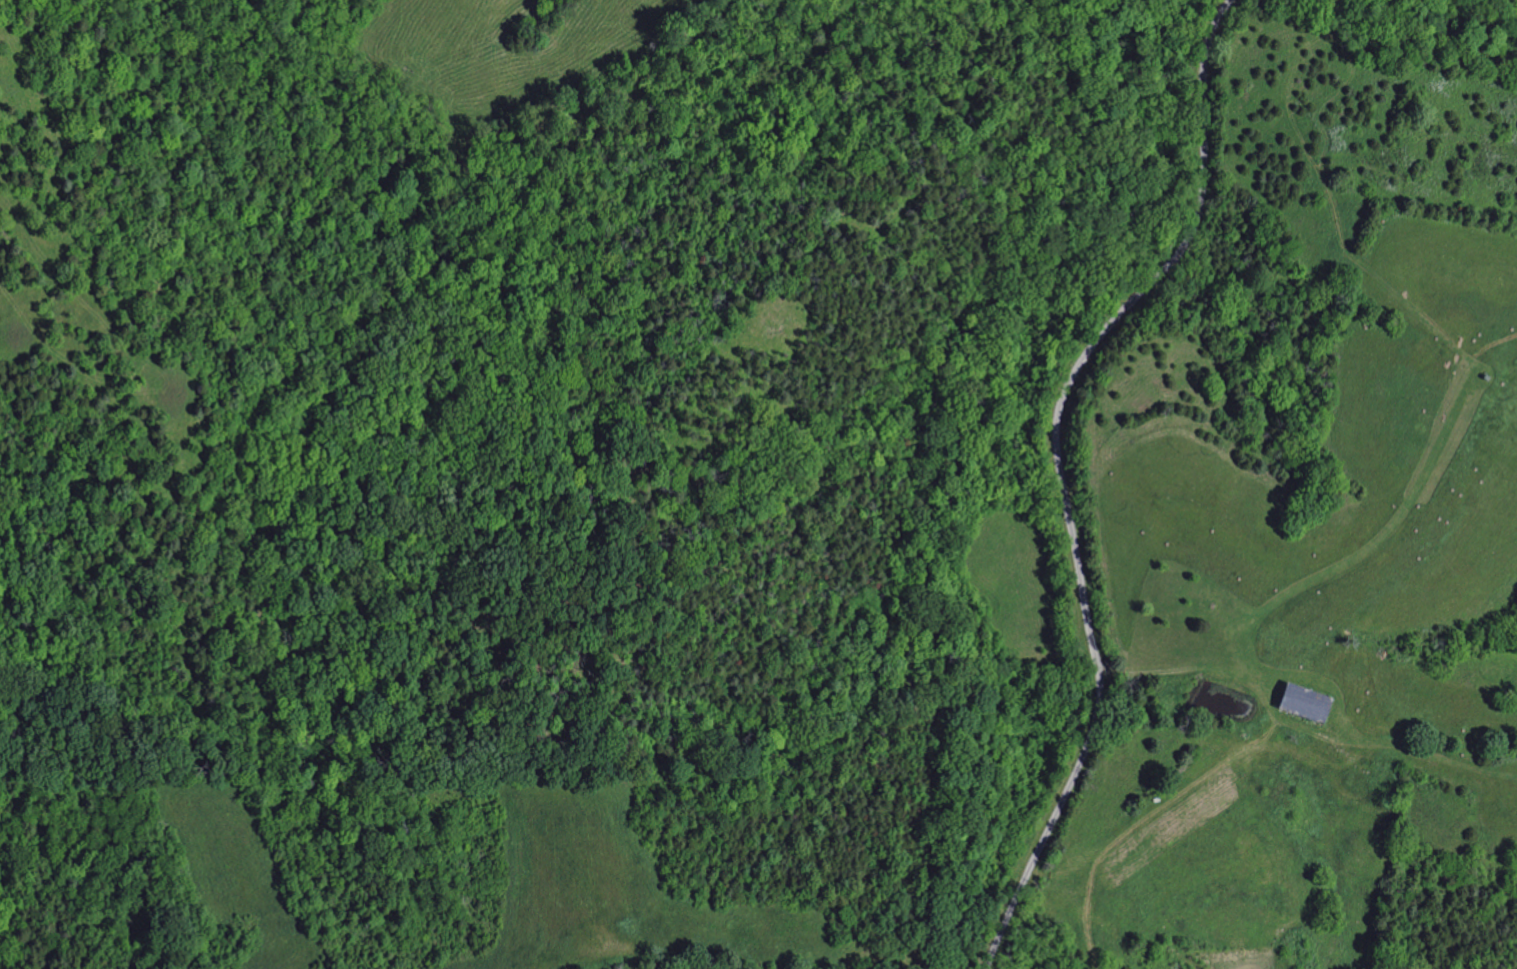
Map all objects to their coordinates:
road: (1057, 470)
building: (1295, 701)

